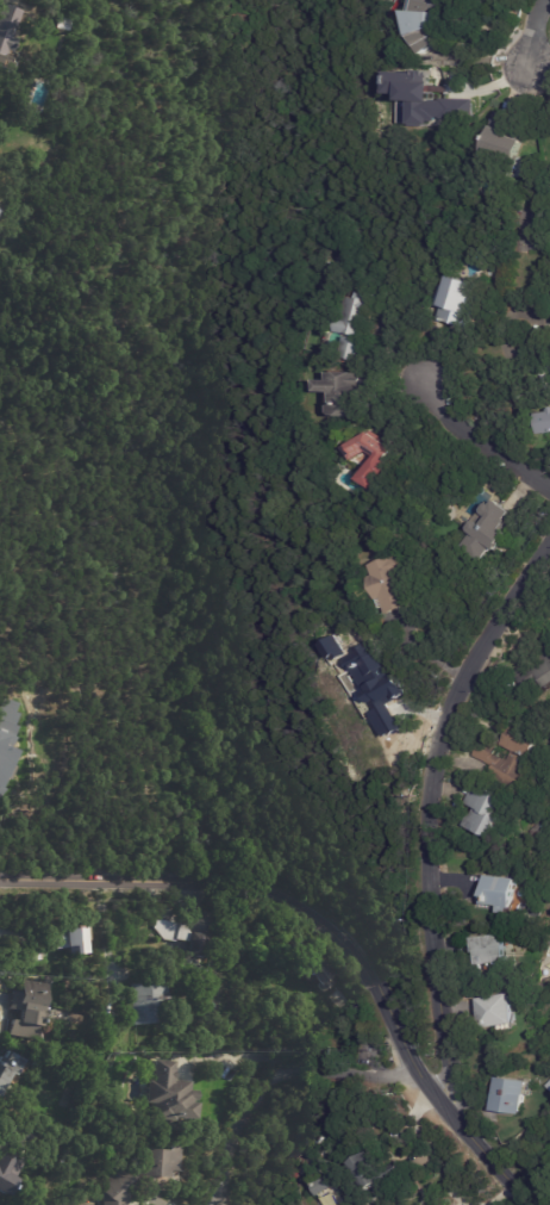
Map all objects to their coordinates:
building: (426, 23)
building: (7, 33)
road: (527, 36)
building: (429, 99)
building: (502, 143)
building: (529, 231)
building: (452, 304)
building: (351, 316)
building: (349, 350)
building: (343, 397)
building: (544, 424)
road: (483, 433)
building: (380, 461)
building: (490, 532)
building: (387, 586)
building: (329, 648)
building: (533, 673)
building: (375, 687)
building: (6, 733)
building: (507, 758)
road: (427, 815)
building: (481, 815)
building: (496, 892)
road: (330, 928)
building: (187, 931)
building: (63, 938)
road: (106, 939)
building: (489, 949)
building: (33, 951)
building: (317, 967)
building: (148, 1001)
building: (26, 1008)
building: (496, 1012)
road: (299, 1062)
building: (7, 1067)
building: (167, 1093)
building: (510, 1097)
road: (243, 1128)
building: (339, 1130)
building: (15, 1147)
building: (376, 1170)
building: (6, 1172)
building: (138, 1175)
building: (320, 1186)

